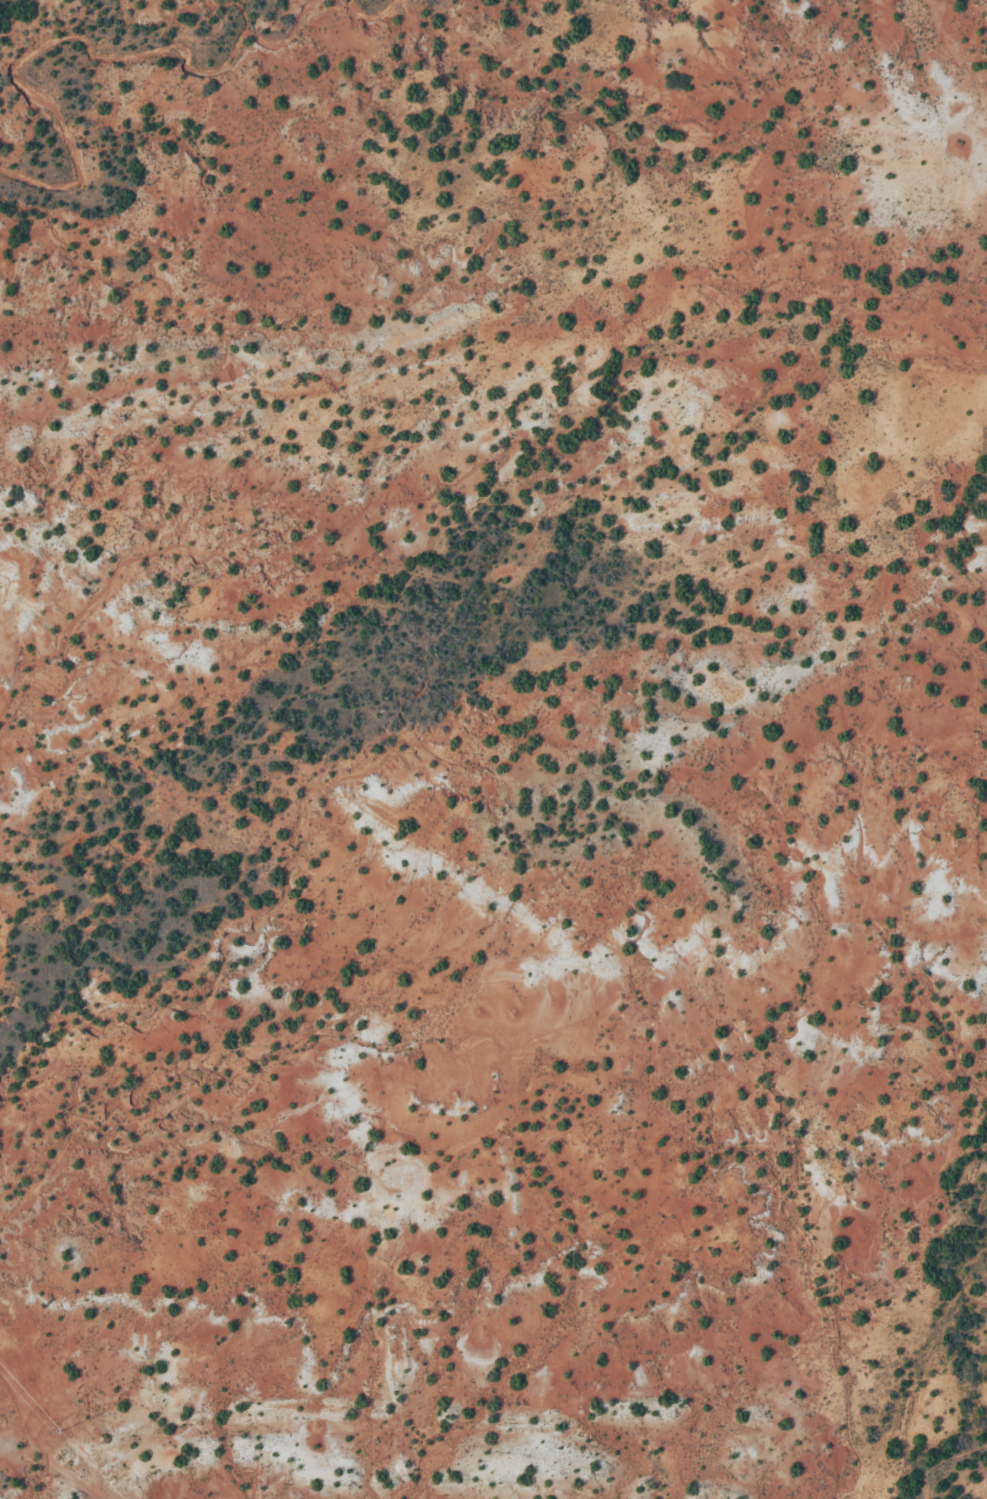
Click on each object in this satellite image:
power tower: (64, 1433)

